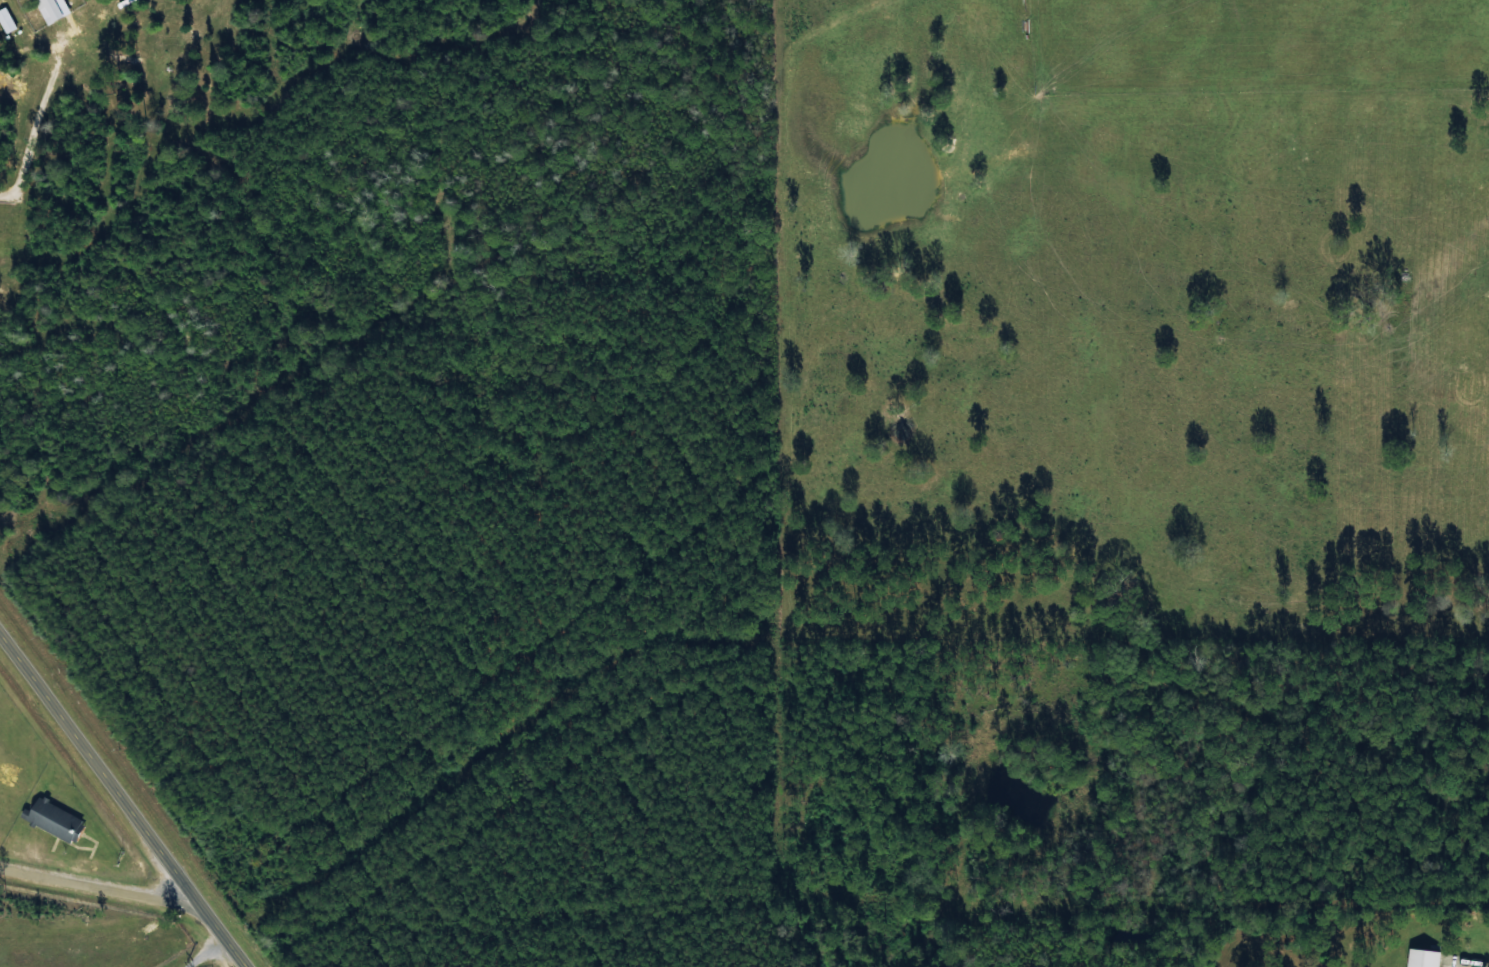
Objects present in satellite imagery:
building: (52, 9)
road: (121, 802)
building: (54, 818)
road: (101, 884)
building: (1422, 958)

